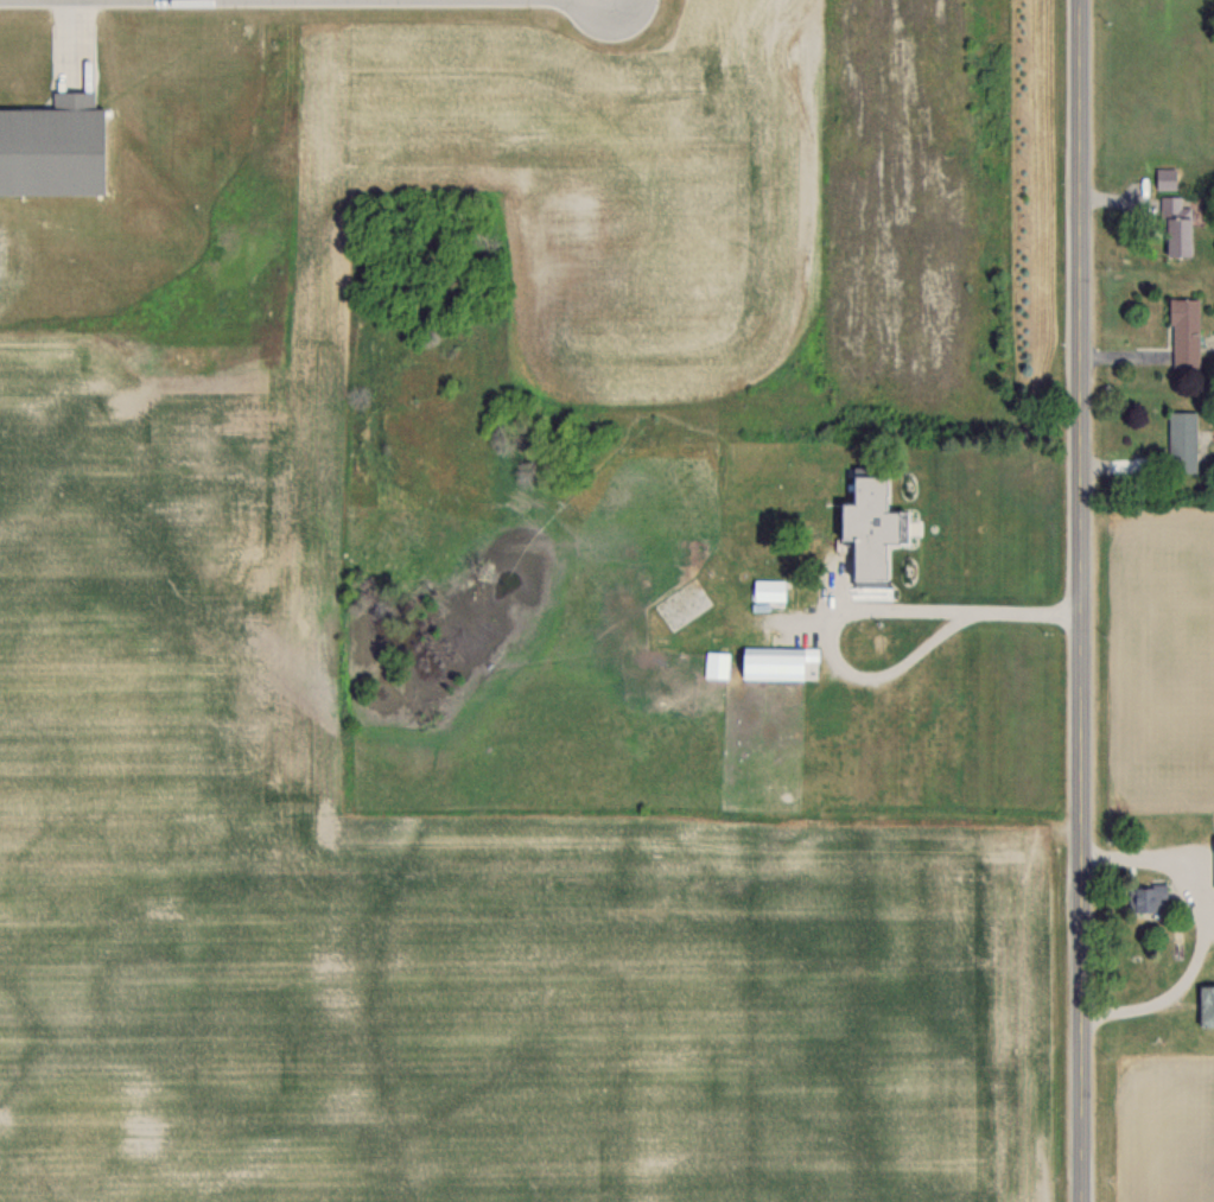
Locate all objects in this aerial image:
road: (1082, 135)
building: (1165, 177)
building: (1175, 227)
building: (1183, 332)
building: (1181, 441)
building: (867, 524)
building: (768, 589)
road: (852, 606)
building: (716, 659)
building: (769, 662)
road: (1083, 736)
building: (1213, 863)
building: (1148, 897)
road: (1203, 929)
building: (1205, 1006)

